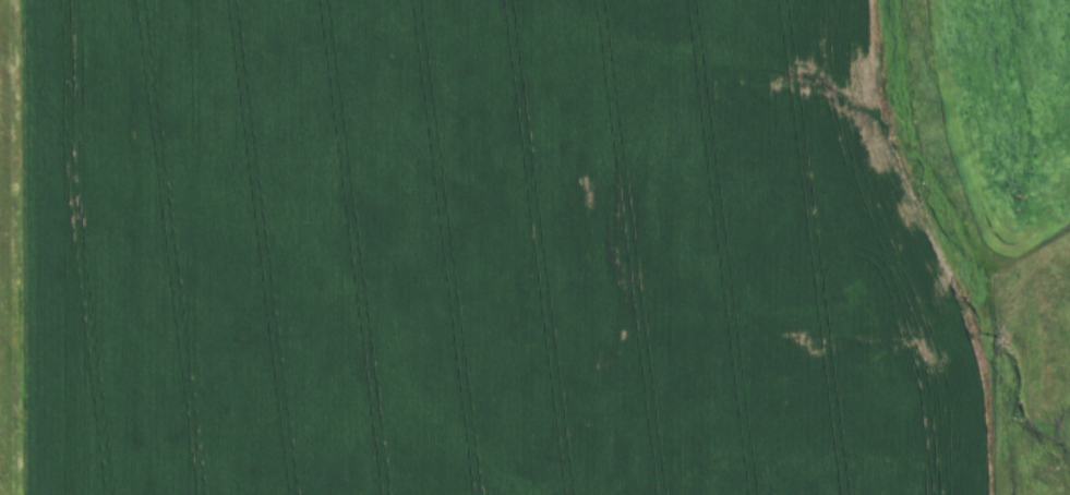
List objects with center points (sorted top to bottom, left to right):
road: (1027, 124)

